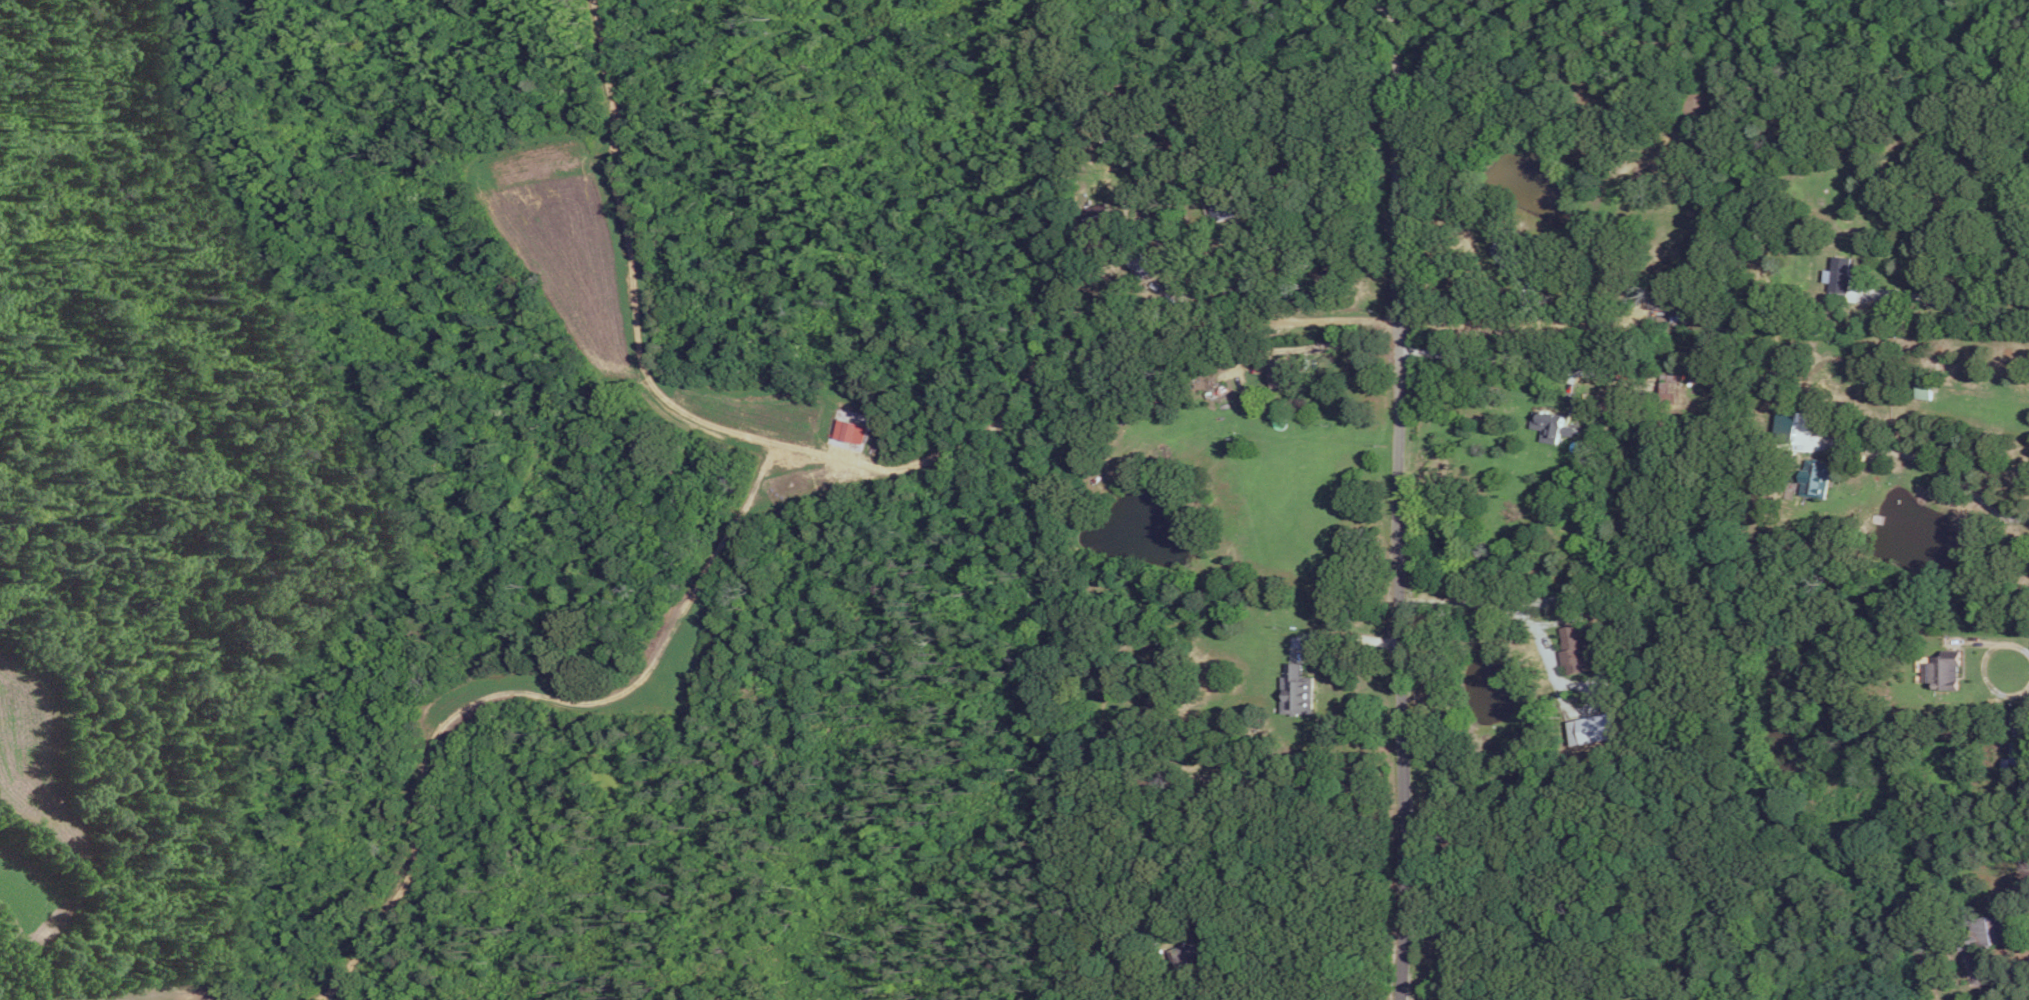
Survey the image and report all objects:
road: (1393, 35)
building: (1221, 208)
building: (1098, 214)
building: (1141, 266)
building: (1838, 273)
road: (1954, 304)
road: (1423, 322)
road: (1053, 349)
road: (1461, 351)
building: (1280, 372)
building: (1923, 389)
building: (1785, 421)
building: (1551, 425)
building: (849, 430)
road: (1936, 465)
building: (1815, 479)
road: (1399, 541)
road: (1475, 605)
road: (1346, 639)
road: (2000, 643)
building: (1572, 649)
building: (1942, 670)
building: (1297, 690)
building: (1593, 728)
building: (1981, 932)
building: (1189, 951)
road: (1205, 992)

